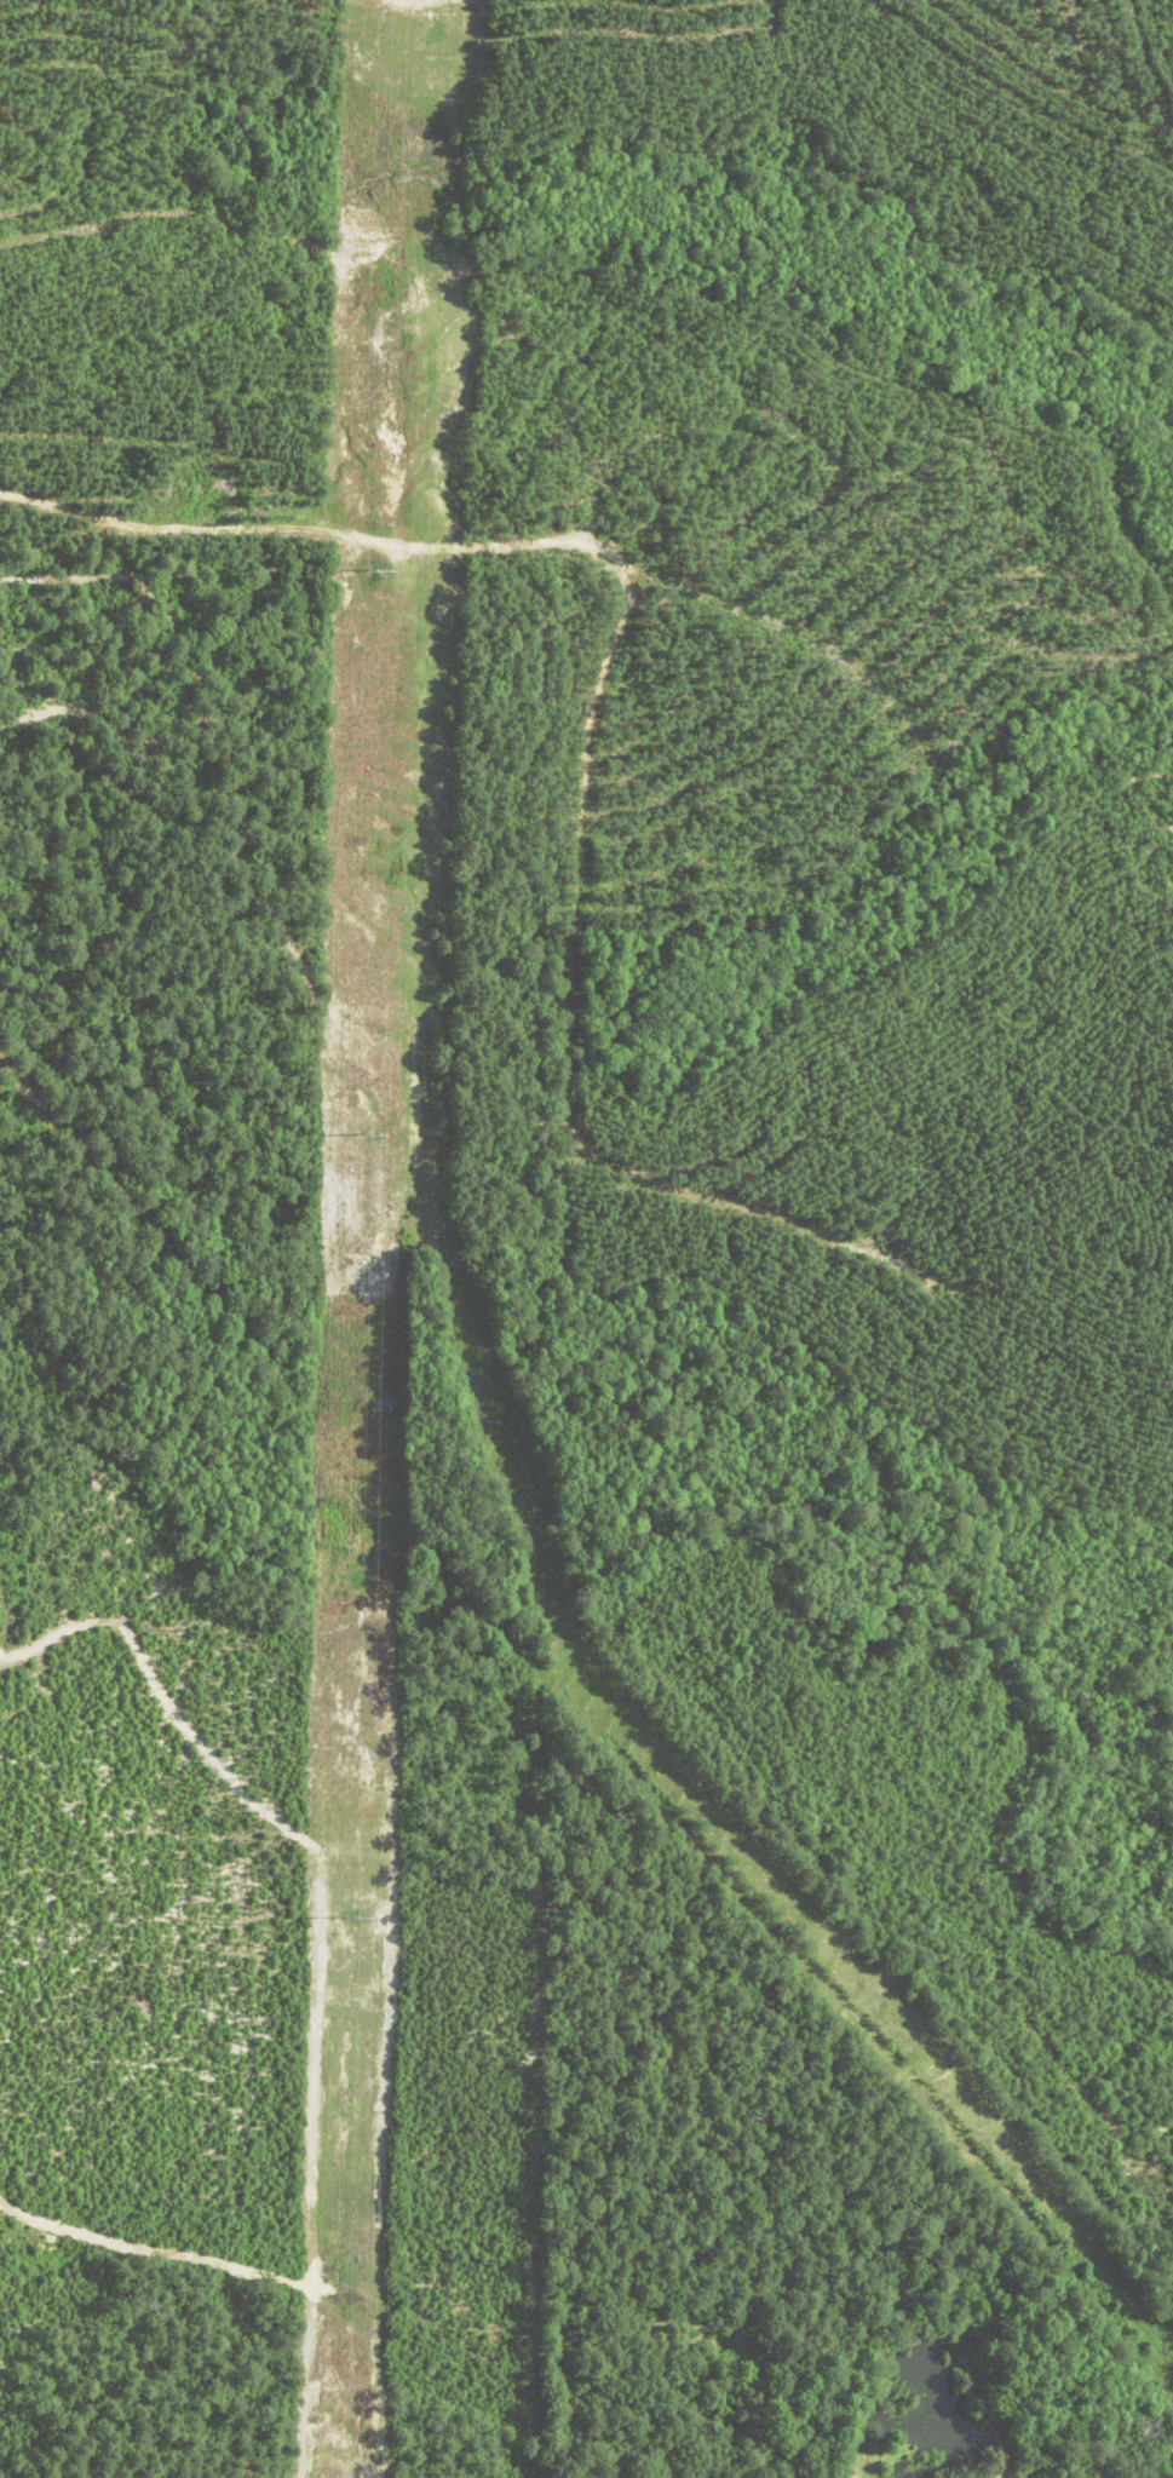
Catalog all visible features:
road: (374, 1093)

